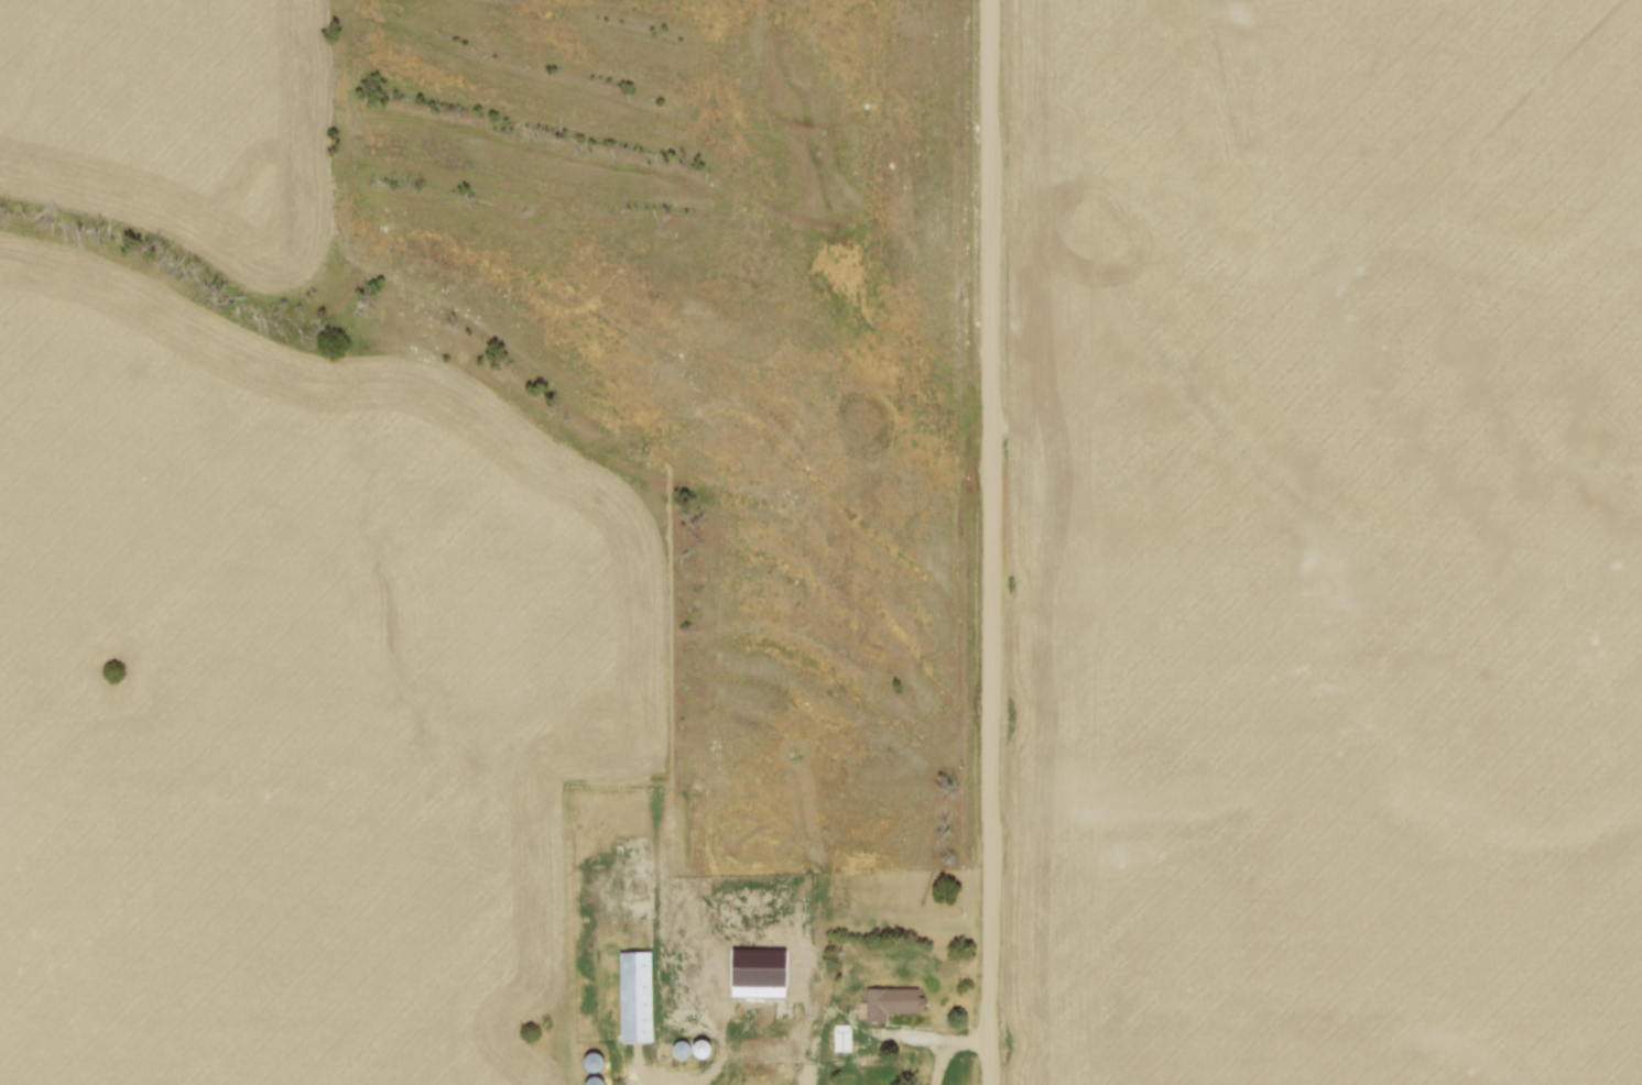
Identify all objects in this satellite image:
crop: (177, 120)
road: (996, 542)
crop: (1328, 542)
crop: (294, 700)
building: (632, 997)
building: (892, 1002)
building: (782, 1008)
road: (891, 1035)
building: (842, 1039)
building: (679, 1050)
silo: (679, 1050)
building: (700, 1050)
silo: (700, 1050)
road: (959, 1052)
building: (588, 1063)
silo: (588, 1063)
building: (591, 1082)
silo: (591, 1082)

